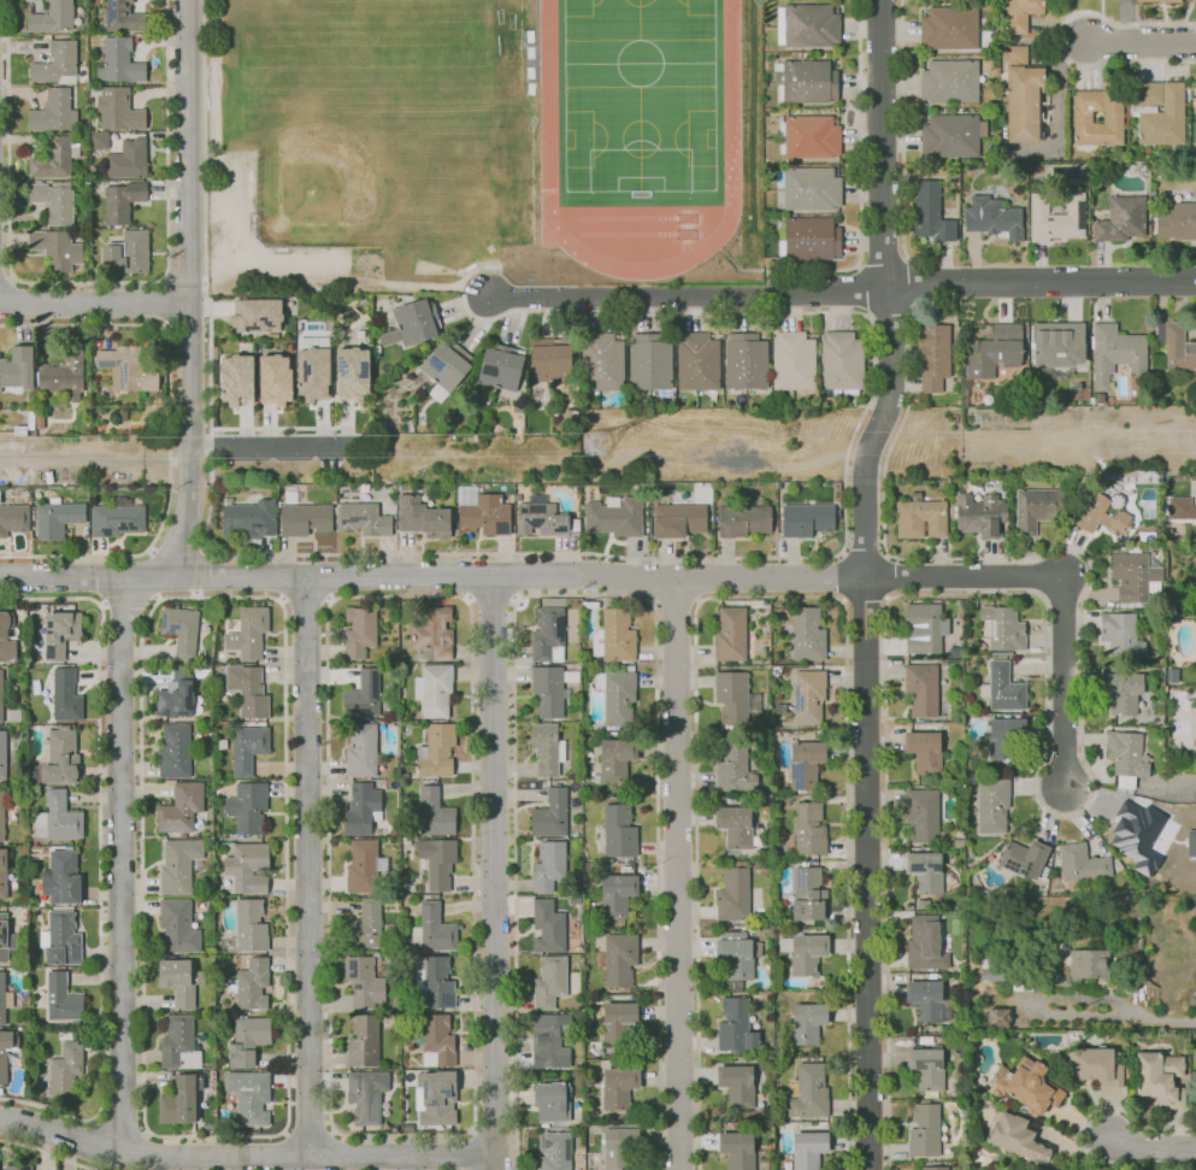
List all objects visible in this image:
building: (1154, 0)
building: (1195, 0)
building: (1020, 13)
building: (52, 17)
building: (124, 17)
building: (812, 24)
building: (948, 27)
road: (1056, 36)
road: (1141, 40)
building: (119, 61)
building: (55, 63)
building: (809, 81)
building: (949, 81)
building: (1021, 95)
building: (1195, 107)
building: (118, 108)
building: (54, 112)
building: (1161, 112)
building: (1096, 116)
building: (949, 135)
building: (811, 136)
building: (100, 140)
track: (547, 142)
building: (55, 159)
building: (128, 159)
park: (325, 177)
building: (812, 188)
building: (54, 200)
building: (122, 202)
building: (930, 213)
building: (1056, 214)
building: (992, 217)
building: (1121, 218)
building: (1177, 219)
building: (812, 237)
building: (57, 248)
building: (128, 253)
road: (6, 277)
road: (164, 280)
road: (87, 282)
road: (183, 282)
road: (204, 283)
road: (839, 287)
building: (323, 289)
road: (189, 298)
road: (94, 302)
road: (461, 302)
building: (255, 314)
building: (413, 323)
building: (1057, 343)
building: (1176, 348)
building: (992, 351)
building: (1114, 353)
building: (932, 355)
building: (601, 360)
building: (649, 360)
building: (696, 360)
building: (794, 360)
building: (841, 360)
building: (552, 361)
building: (744, 361)
building: (501, 366)
building: (129, 368)
building: (446, 368)
building: (17, 371)
building: (63, 374)
building: (313, 374)
building: (352, 374)
building: (275, 380)
building: (236, 381)
road: (906, 384)
building: (424, 387)
building: (40, 422)
building: (19, 430)
road: (167, 433)
building: (5, 434)
road: (260, 446)
power tower: (595, 446)
road: (95, 457)
building: (364, 496)
building: (518, 496)
building: (1195, 500)
building: (123, 501)
building: (1179, 507)
building: (1036, 508)
building: (485, 515)
building: (979, 515)
building: (1101, 516)
building: (57, 517)
building: (423, 517)
building: (14, 518)
building: (248, 518)
building: (306, 518)
building: (544, 518)
building: (614, 518)
building: (805, 518)
building: (365, 519)
building: (677, 519)
building: (920, 519)
building: (117, 521)
building: (742, 521)
road: (151, 548)
road: (202, 549)
road: (176, 551)
road: (573, 553)
road: (199, 570)
road: (431, 575)
building: (1132, 576)
road: (961, 577)
road: (864, 582)
road: (195, 594)
road: (582, 595)
road: (128, 599)
road: (155, 599)
road: (489, 599)
road: (305, 601)
road: (466, 602)
road: (101, 604)
road: (282, 605)
building: (924, 624)
building: (1003, 627)
building: (181, 630)
building: (360, 630)
building: (434, 631)
building: (60, 633)
building: (248, 633)
building: (806, 633)
building: (549, 634)
building: (615, 634)
building: (730, 635)
building: (1120, 635)
building: (6, 637)
road: (1059, 681)
road: (1045, 686)
building: (1003, 687)
building: (435, 688)
building: (552, 688)
building: (920, 688)
building: (248, 690)
building: (1123, 690)
building: (177, 694)
building: (365, 694)
building: (66, 695)
building: (731, 695)
building: (807, 695)
building: (1, 696)
building: (619, 699)
building: (1006, 739)
building: (548, 747)
building: (248, 748)
building: (364, 748)
building: (437, 748)
building: (175, 751)
building: (923, 752)
building: (1125, 753)
building: (2, 755)
building: (61, 757)
building: (613, 760)
building: (805, 764)
building: (733, 766)
building: (991, 805)
building: (182, 807)
building: (363, 807)
building: (248, 809)
building: (435, 811)
building: (552, 813)
building: (921, 815)
building: (1, 818)
building: (58, 818)
building: (733, 824)
building: (1133, 828)
building: (807, 829)
building: (618, 830)
building: (1190, 842)
building: (1023, 858)
road: (99, 860)
building: (438, 860)
road: (120, 862)
building: (1079, 862)
building: (550, 864)
building: (179, 865)
road: (308, 865)
building: (248, 866)
building: (365, 866)
building: (924, 871)
road: (494, 872)
building: (4, 874)
road: (677, 876)
building: (61, 877)
building: (615, 894)
building: (732, 894)
building: (807, 894)
building: (252, 924)
building: (365, 925)
building: (549, 925)
building: (178, 927)
building: (434, 929)
building: (5, 939)
building: (61, 940)
building: (924, 942)
building: (807, 953)
building: (735, 954)
building: (619, 958)
building: (1089, 964)
building: (182, 980)
building: (437, 980)
building: (550, 981)
building: (365, 982)
building: (251, 983)
building: (63, 998)
building: (5, 999)
building: (927, 1000)
road: (1112, 1016)
building: (996, 1017)
building: (615, 1019)
building: (807, 1022)
building: (737, 1025)
building: (437, 1039)
building: (249, 1040)
building: (365, 1040)
building: (548, 1041)
building: (179, 1043)
building: (6, 1051)
building: (1092, 1064)
building: (925, 1069)
building: (66, 1070)
building: (1159, 1078)
building: (737, 1084)
building: (618, 1086)
building: (1032, 1086)
building: (1195, 1086)
building: (808, 1092)
building: (367, 1094)
building: (251, 1095)
building: (437, 1096)
building: (182, 1100)
building: (552, 1100)
road: (119, 1127)
road: (308, 1130)
building: (924, 1130)
building: (1018, 1137)
building: (738, 1146)
road: (1154, 1146)
building: (619, 1148)
road: (472, 1150)
building: (808, 1150)
building: (556, 1151)
road: (49, 1153)
road: (246, 1154)
building: (18, 1166)
building: (932, 1168)

